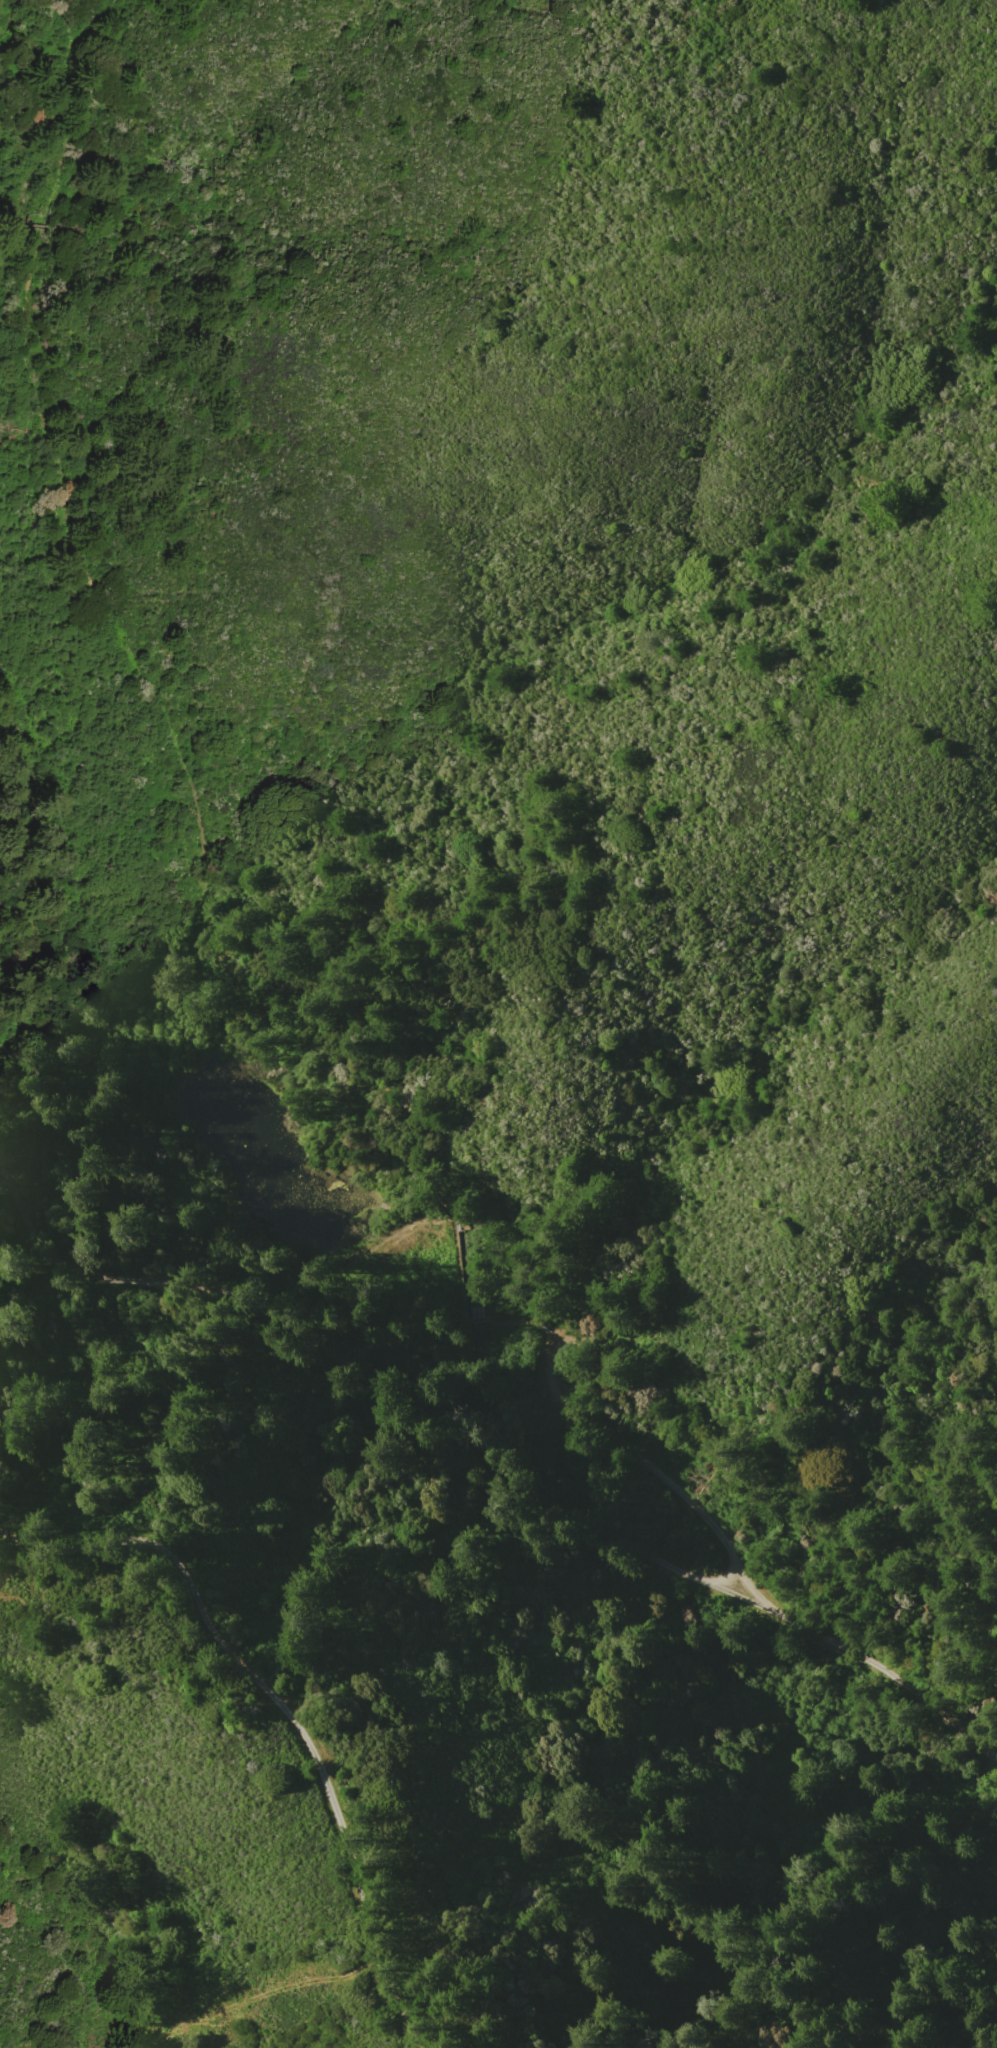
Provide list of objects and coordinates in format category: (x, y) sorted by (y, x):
dam: (368, 1240)
road: (88, 1269)
building: (476, 1311)
road: (625, 1448)
road: (854, 1655)
road: (281, 1711)

